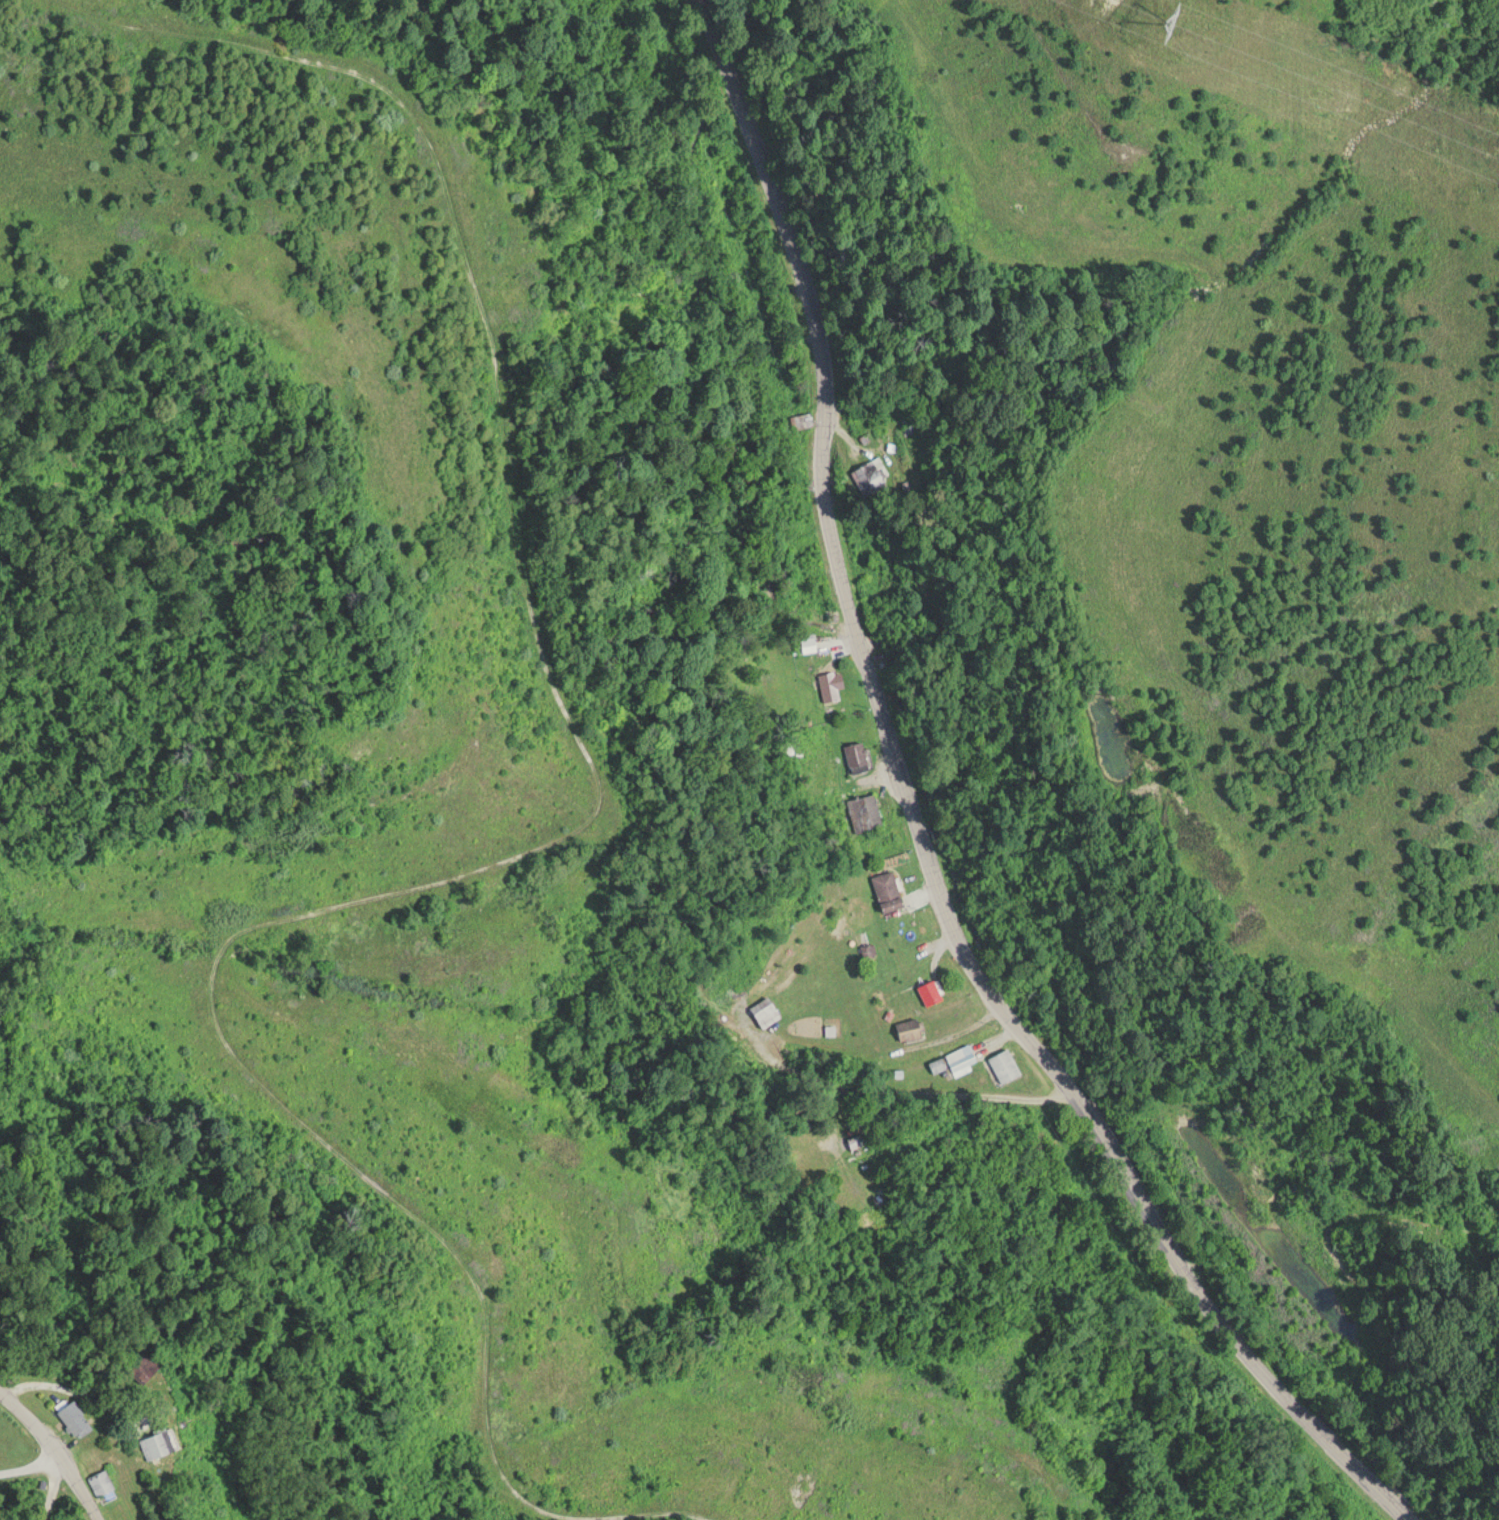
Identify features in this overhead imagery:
power tower: (1162, 1)
building: (800, 419)
building: (870, 472)
building: (810, 644)
building: (837, 694)
building: (859, 755)
building: (866, 811)
road: (920, 825)
building: (890, 889)
building: (907, 925)
building: (933, 990)
building: (866, 1001)
building: (767, 1009)
building: (913, 1027)
building: (953, 1061)
building: (1009, 1069)
building: (855, 1140)
building: (142, 1366)
building: (76, 1415)
building: (159, 1443)
road: (33, 1475)
building: (103, 1482)

